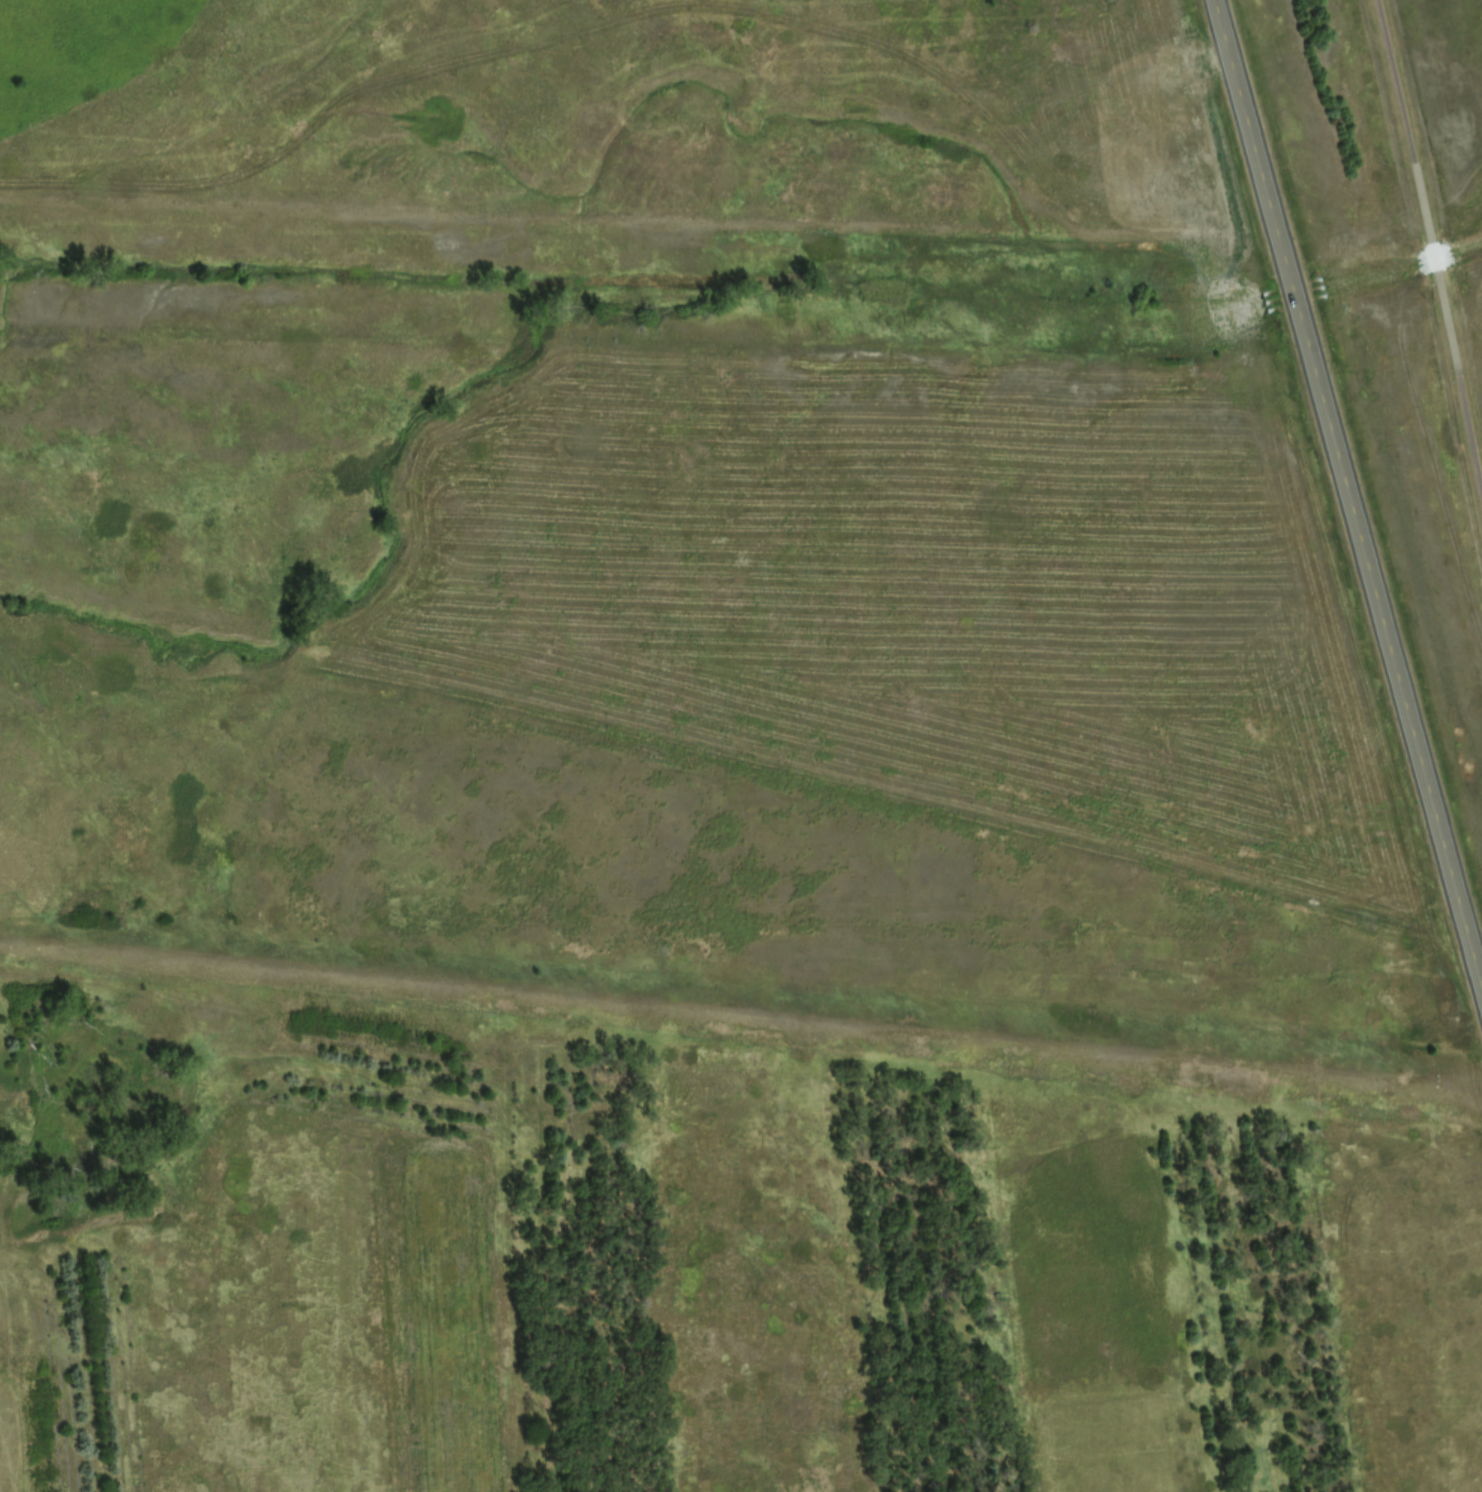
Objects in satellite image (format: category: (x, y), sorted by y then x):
road: (1434, 249)
road: (1347, 498)

